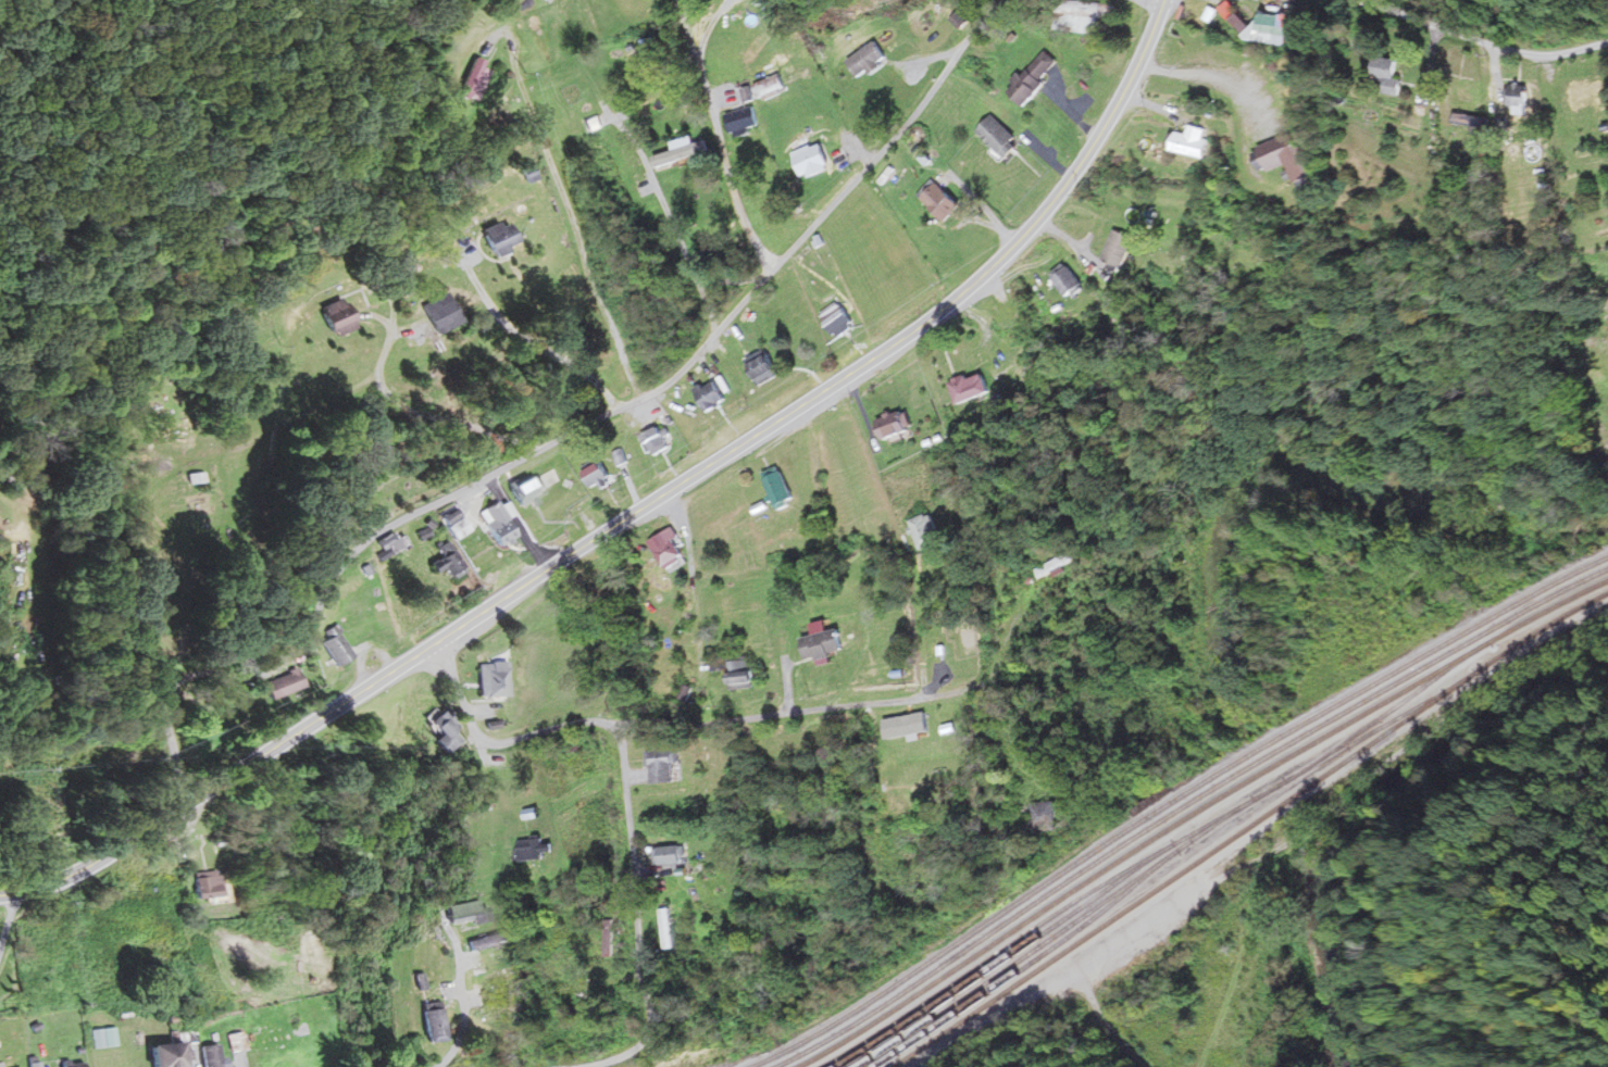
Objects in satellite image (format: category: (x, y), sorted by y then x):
road: (1150, 4)
road: (1162, 4)
road: (1463, 55)
building: (475, 79)
building: (652, 112)
building: (746, 121)
building: (814, 160)
building: (942, 199)
building: (503, 236)
building: (1068, 278)
road: (961, 293)
building: (445, 312)
building: (340, 316)
building: (840, 317)
building: (766, 367)
building: (973, 387)
building: (714, 394)
building: (896, 424)
road: (576, 434)
building: (658, 440)
building: (621, 457)
building: (597, 472)
building: (197, 477)
building: (782, 486)
building: (529, 489)
building: (457, 523)
building: (500, 523)
building: (668, 540)
building: (390, 545)
building: (453, 562)
building: (1059, 564)
building: (828, 644)
building: (337, 645)
road: (698, 669)
building: (741, 669)
building: (494, 679)
building: (284, 683)
road: (339, 704)
road: (676, 718)
building: (937, 728)
building: (449, 730)
building: (664, 765)
building: (1046, 812)
railway: (1194, 812)
railway: (1248, 827)
building: (533, 849)
building: (185, 854)
building: (671, 855)
road: (633, 875)
building: (208, 883)
building: (469, 913)
building: (666, 926)
building: (611, 939)
building: (490, 940)
building: (497, 972)
building: (582, 989)
road: (528, 997)
building: (502, 1013)
building: (437, 1025)
building: (277, 1038)
building: (237, 1041)
building: (170, 1055)
building: (214, 1055)
road: (626, 1055)
building: (75, 1064)

